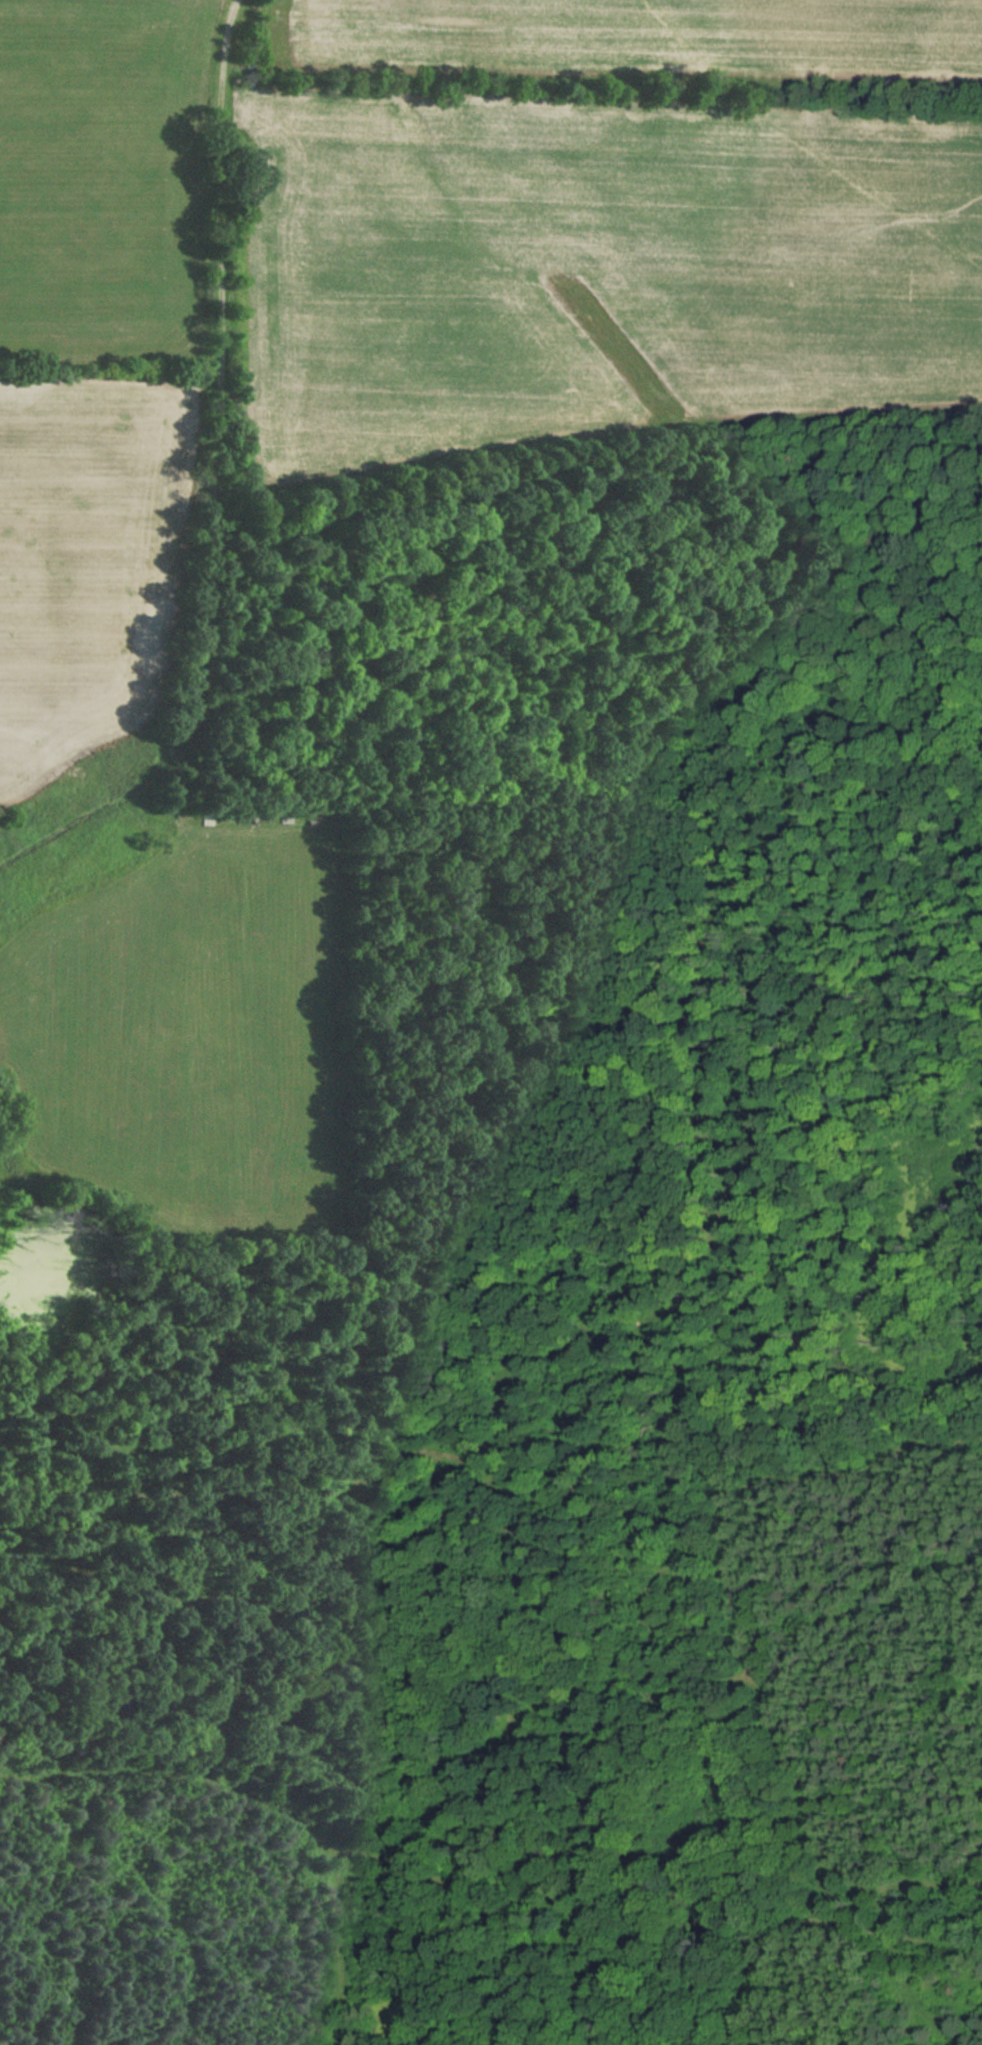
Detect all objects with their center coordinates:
road: (231, 2)
road: (215, 427)

